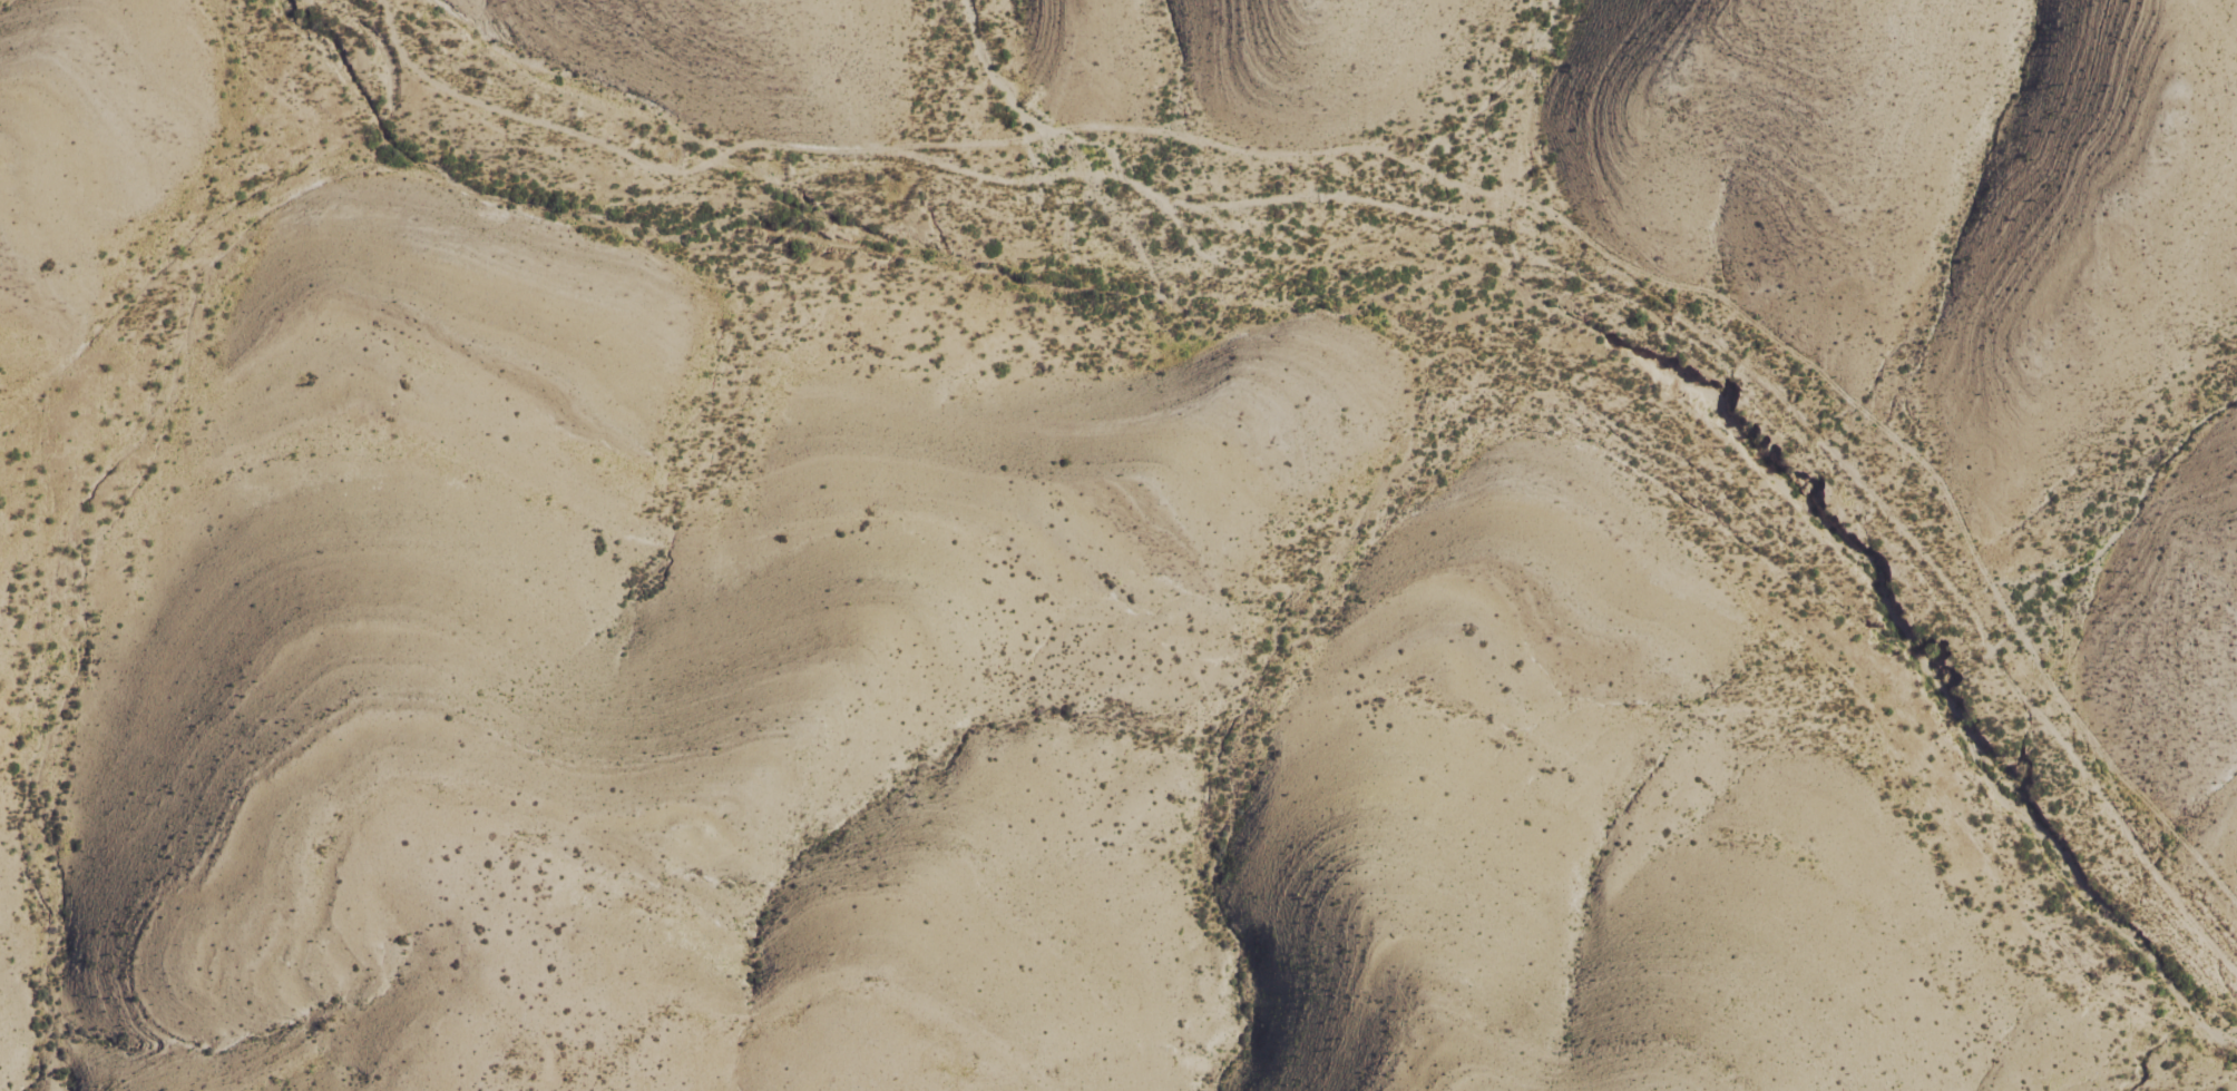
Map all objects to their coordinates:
road: (1462, 265)

